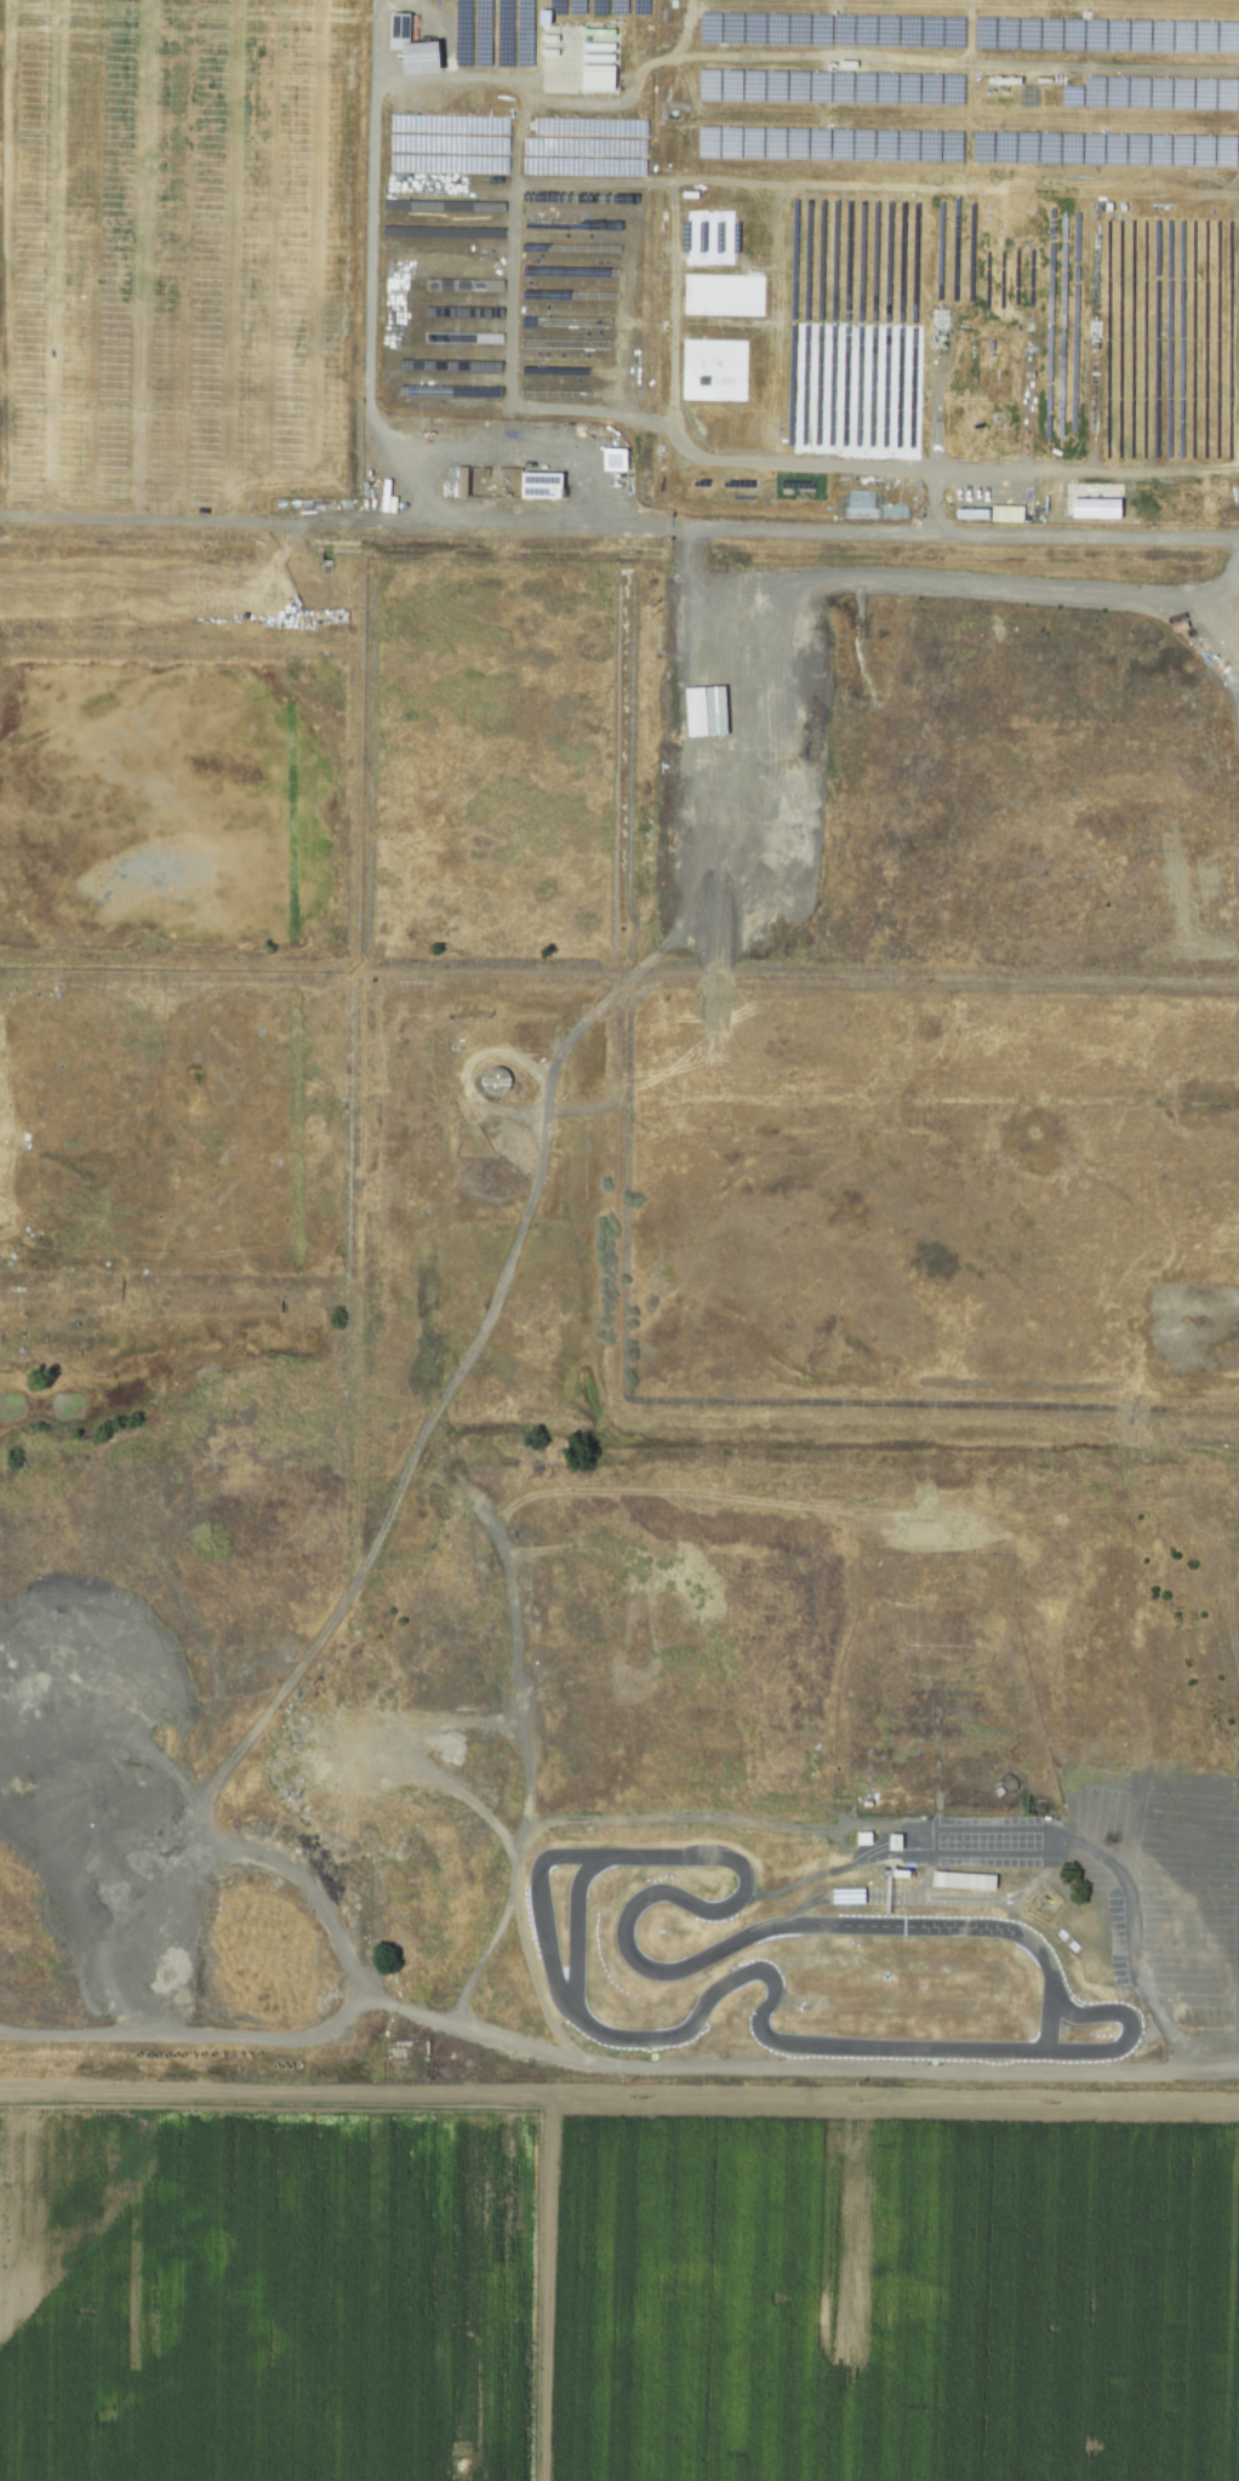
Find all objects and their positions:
building: (399, 24)
road: (372, 38)
road: (447, 64)
road: (367, 280)
road: (512, 284)
road: (720, 458)
building: (615, 459)
road: (952, 470)
building: (541, 485)
road: (416, 507)
building: (972, 513)
building: (1006, 513)
road: (690, 559)
road: (353, 1548)
road: (689, 1817)
building: (963, 1880)
road: (512, 1882)
raceway: (795, 1883)
raceway: (790, 1914)
raceway: (577, 1922)
road: (1134, 1951)
raceway: (1049, 2019)
raceway: (1126, 2037)
road: (605, 2074)

